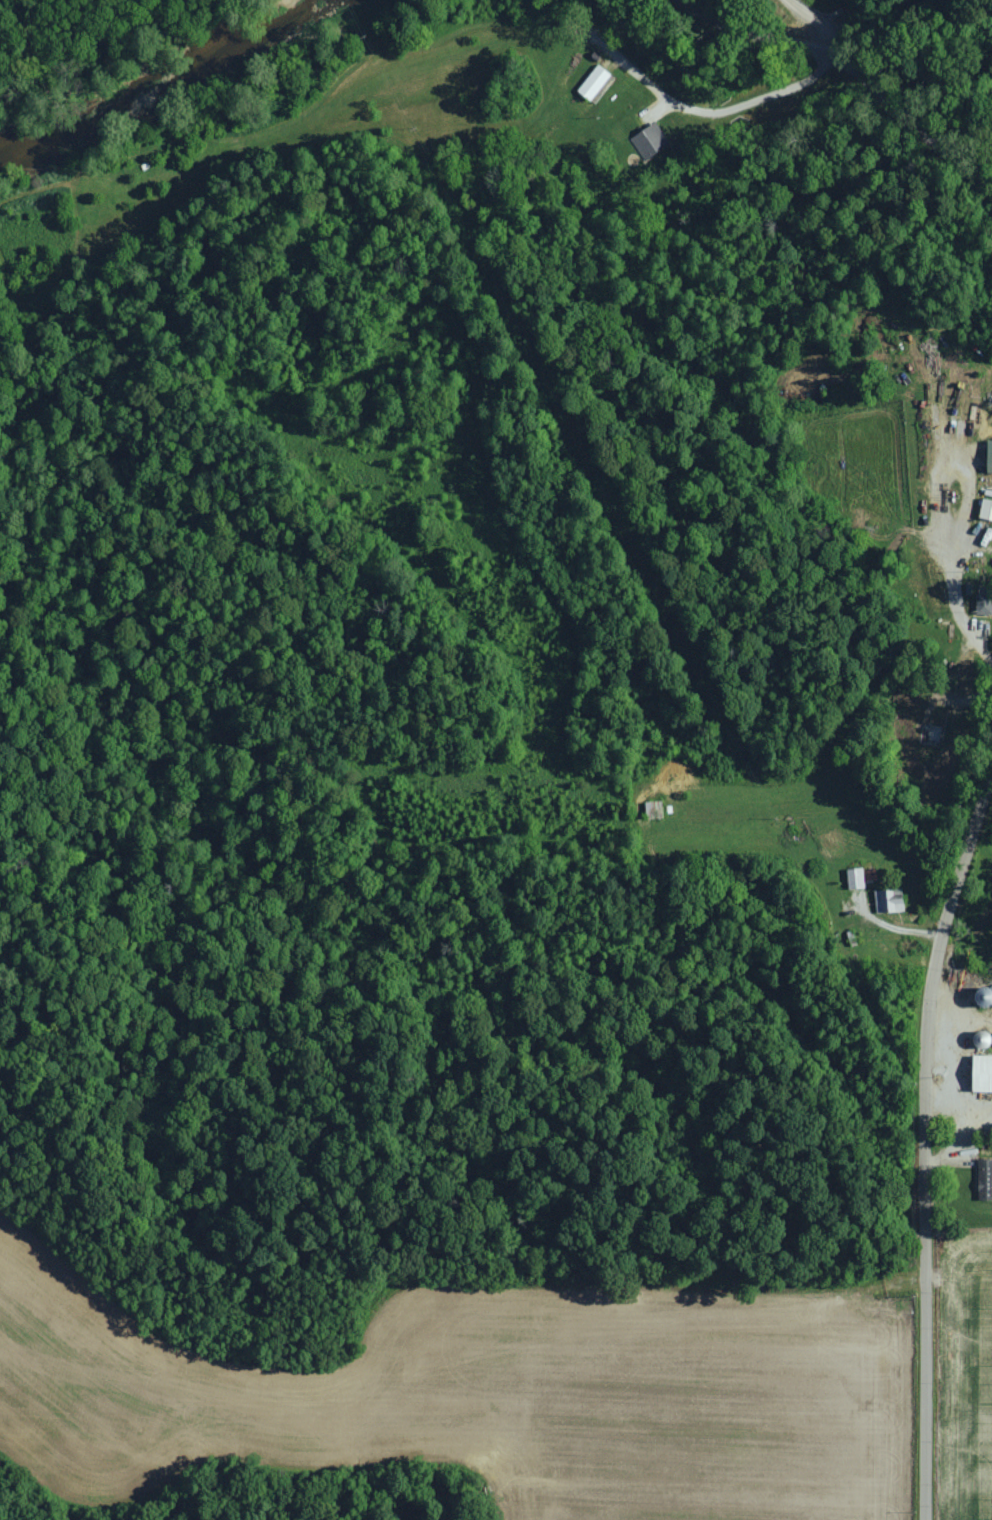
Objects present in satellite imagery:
road: (814, 24)
building: (596, 82)
road: (863, 86)
building: (652, 142)
building: (991, 458)
building: (987, 506)
road: (943, 554)
building: (985, 602)
building: (857, 877)
building: (890, 901)
road: (954, 1024)
building: (984, 1073)
road: (915, 1135)
building: (986, 1178)

